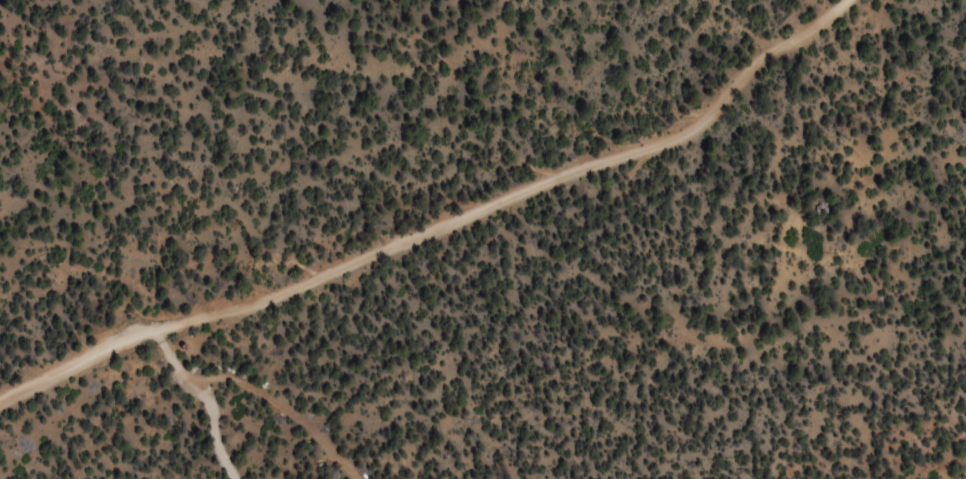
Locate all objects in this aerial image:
road: (438, 230)

